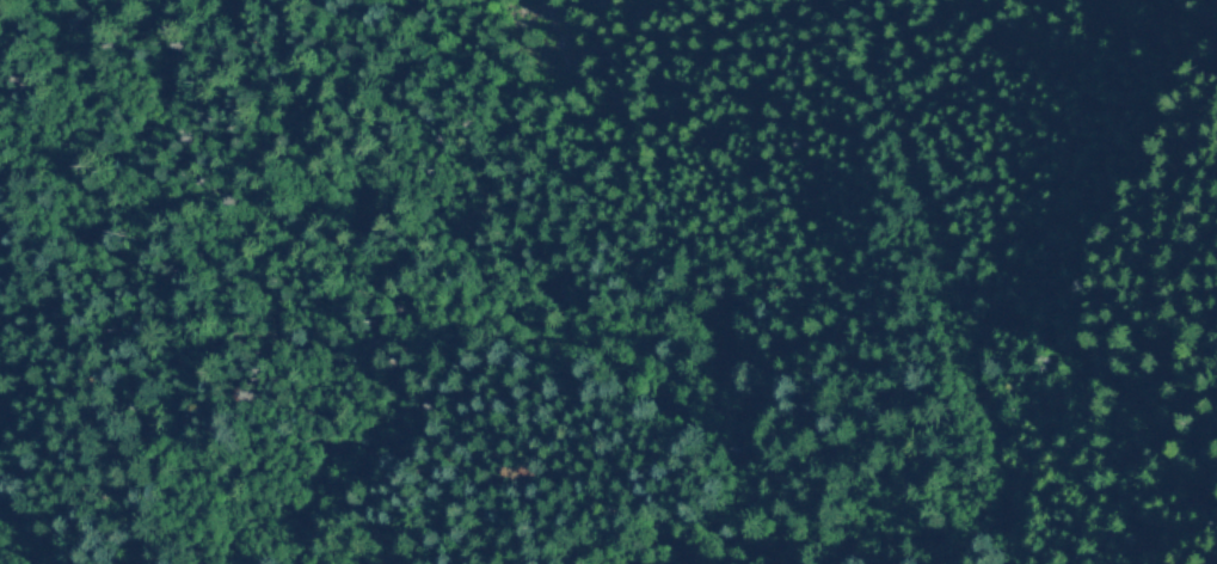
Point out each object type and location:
road: (861, 275)

